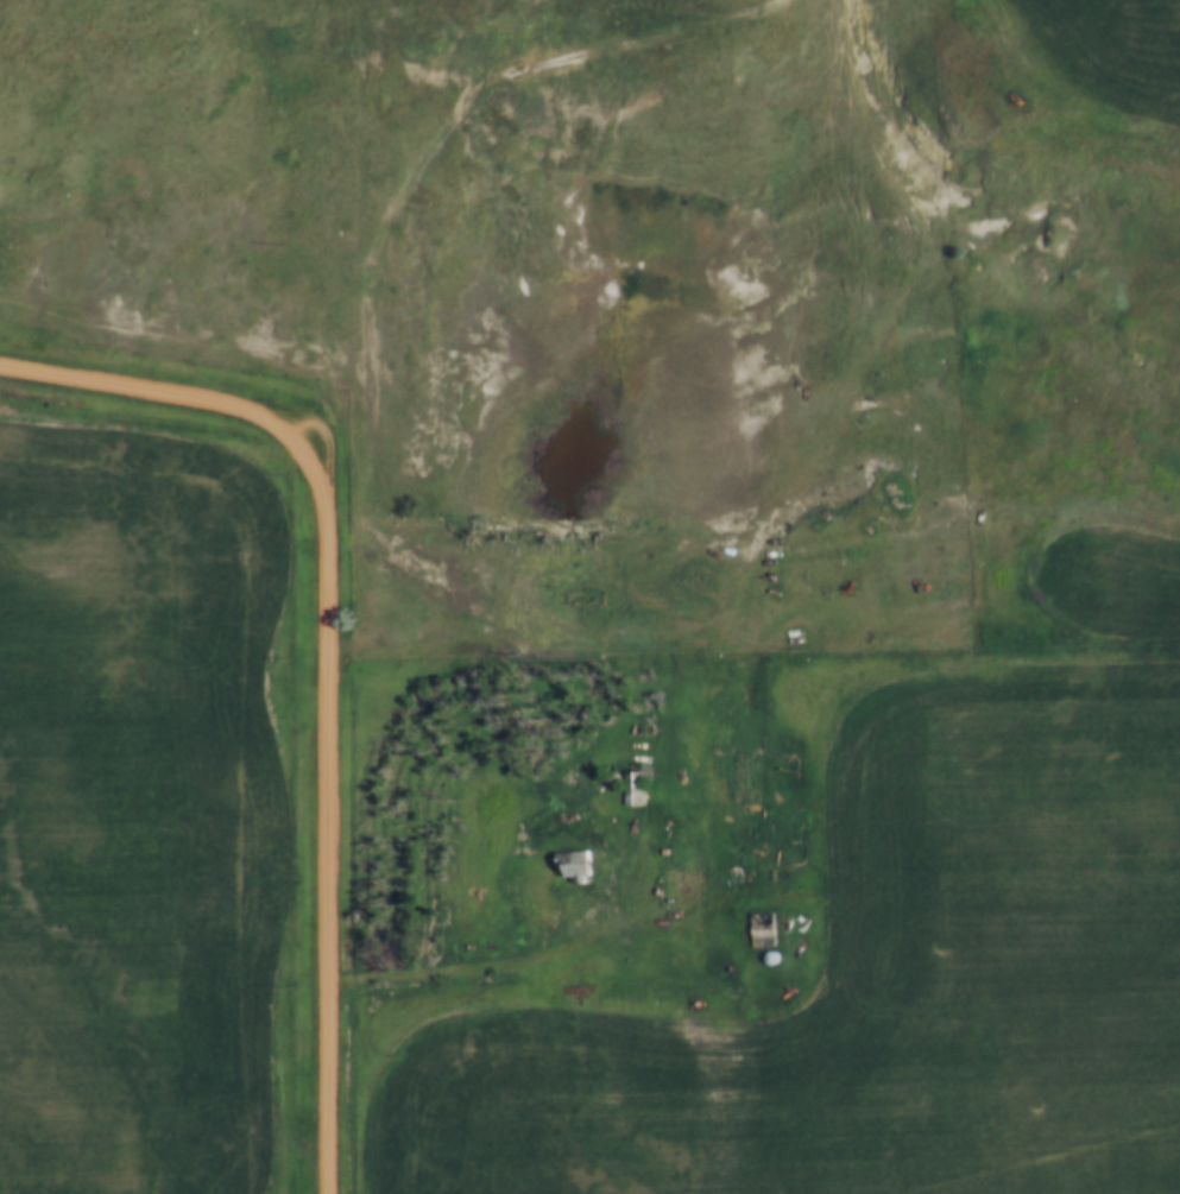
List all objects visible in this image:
road: (162, 385)
building: (643, 786)
road: (329, 819)
building: (582, 864)
building: (769, 928)
road: (512, 956)

